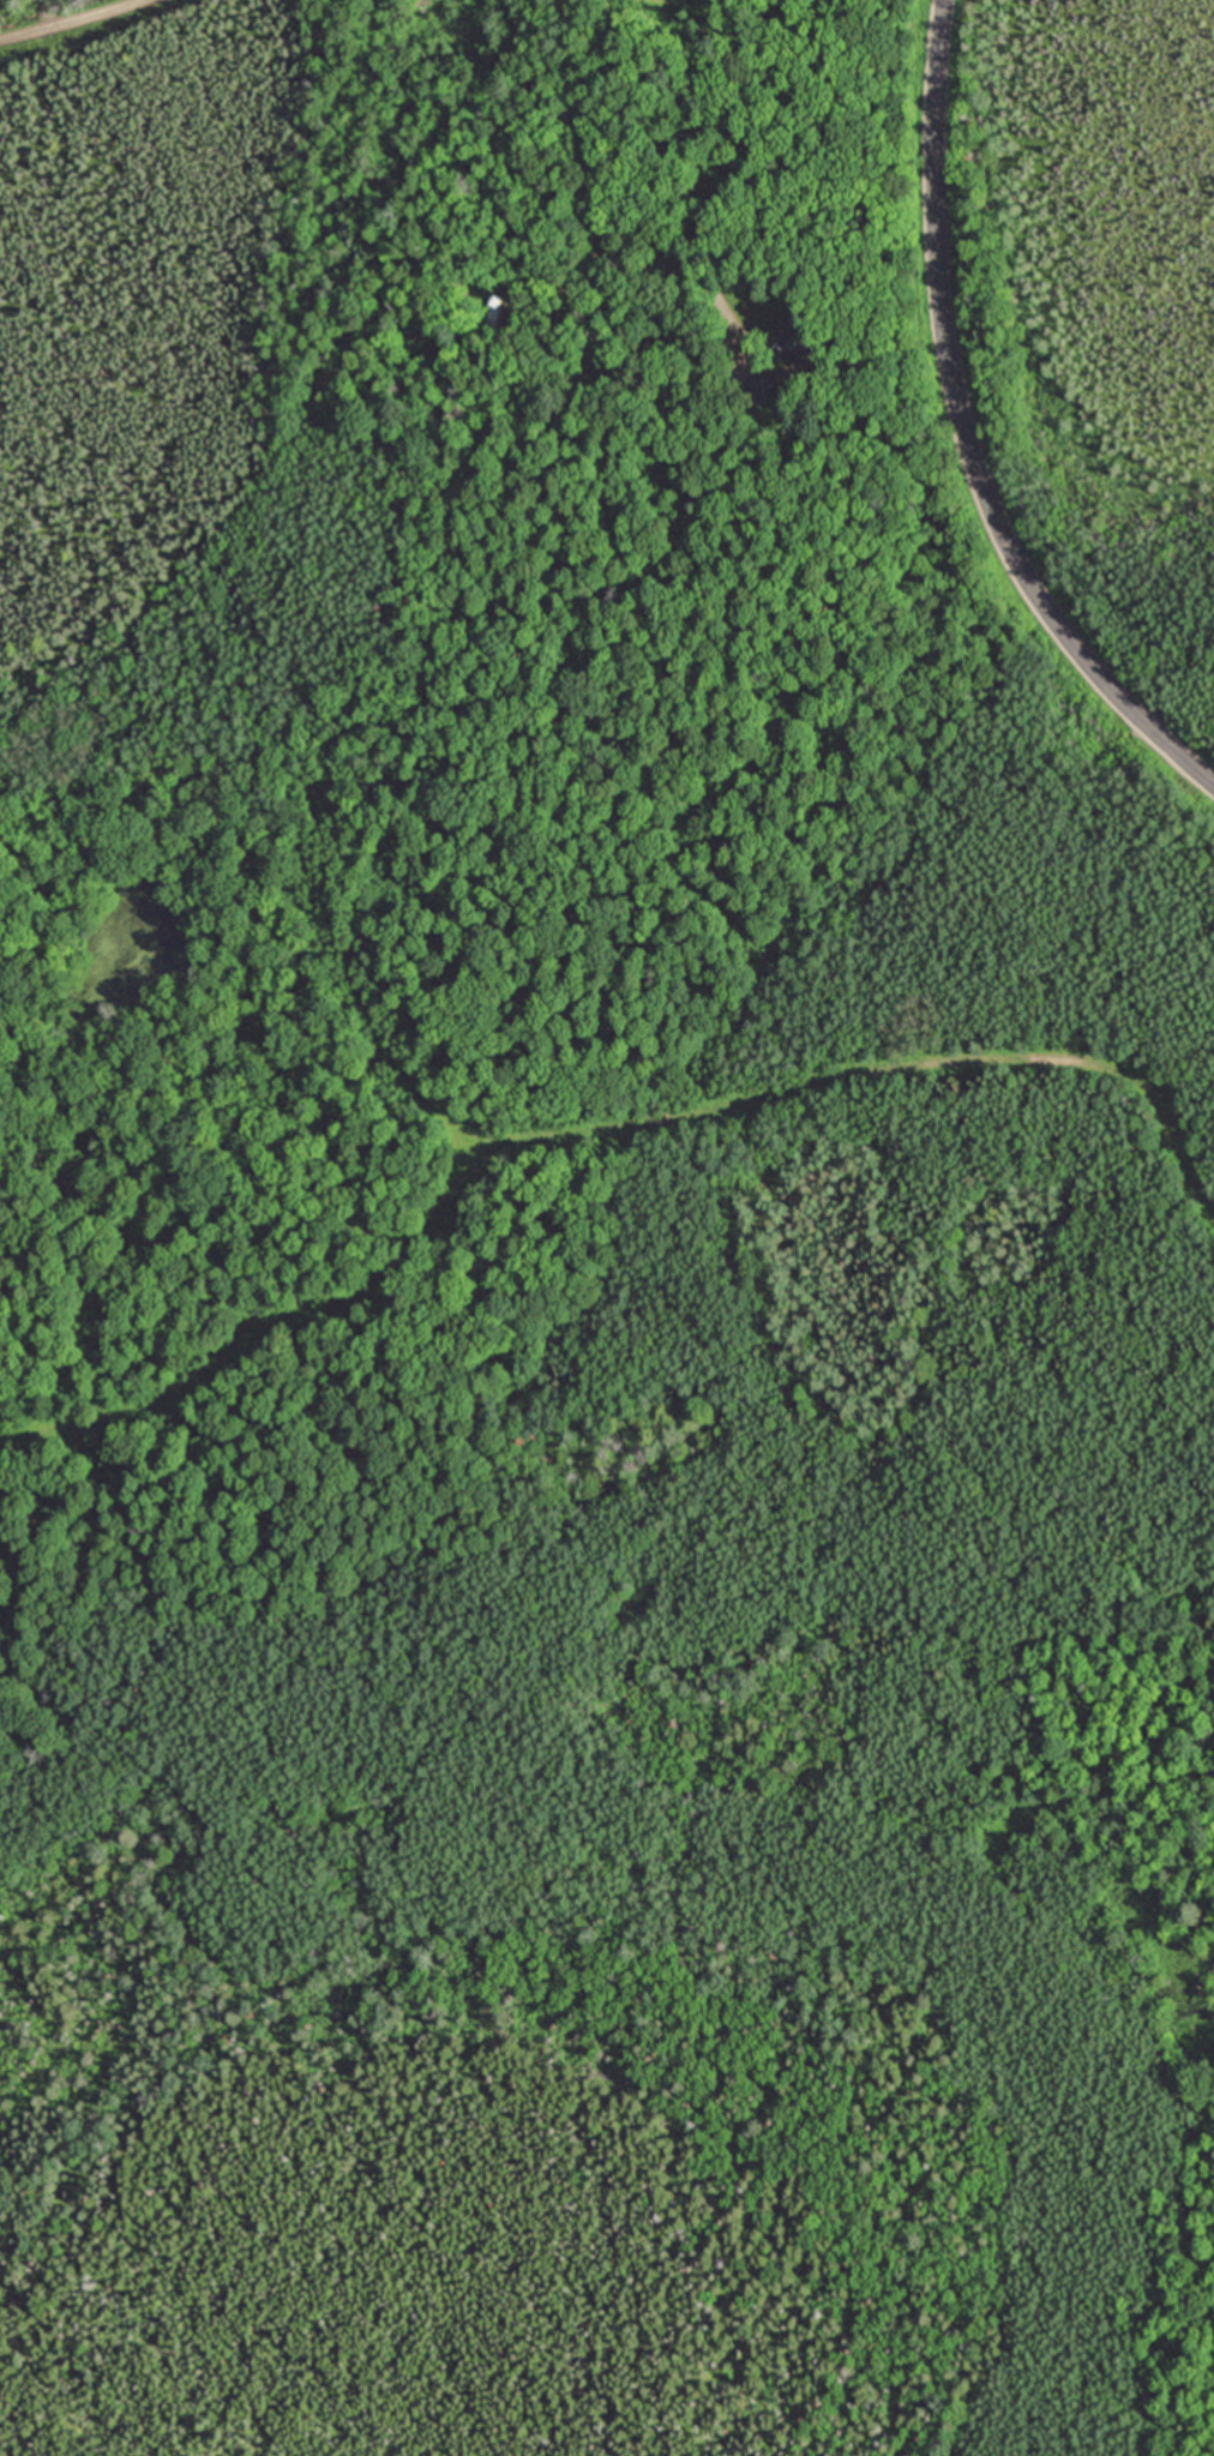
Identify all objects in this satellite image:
road: (61, 19)
road: (963, 433)
road: (590, 1133)

